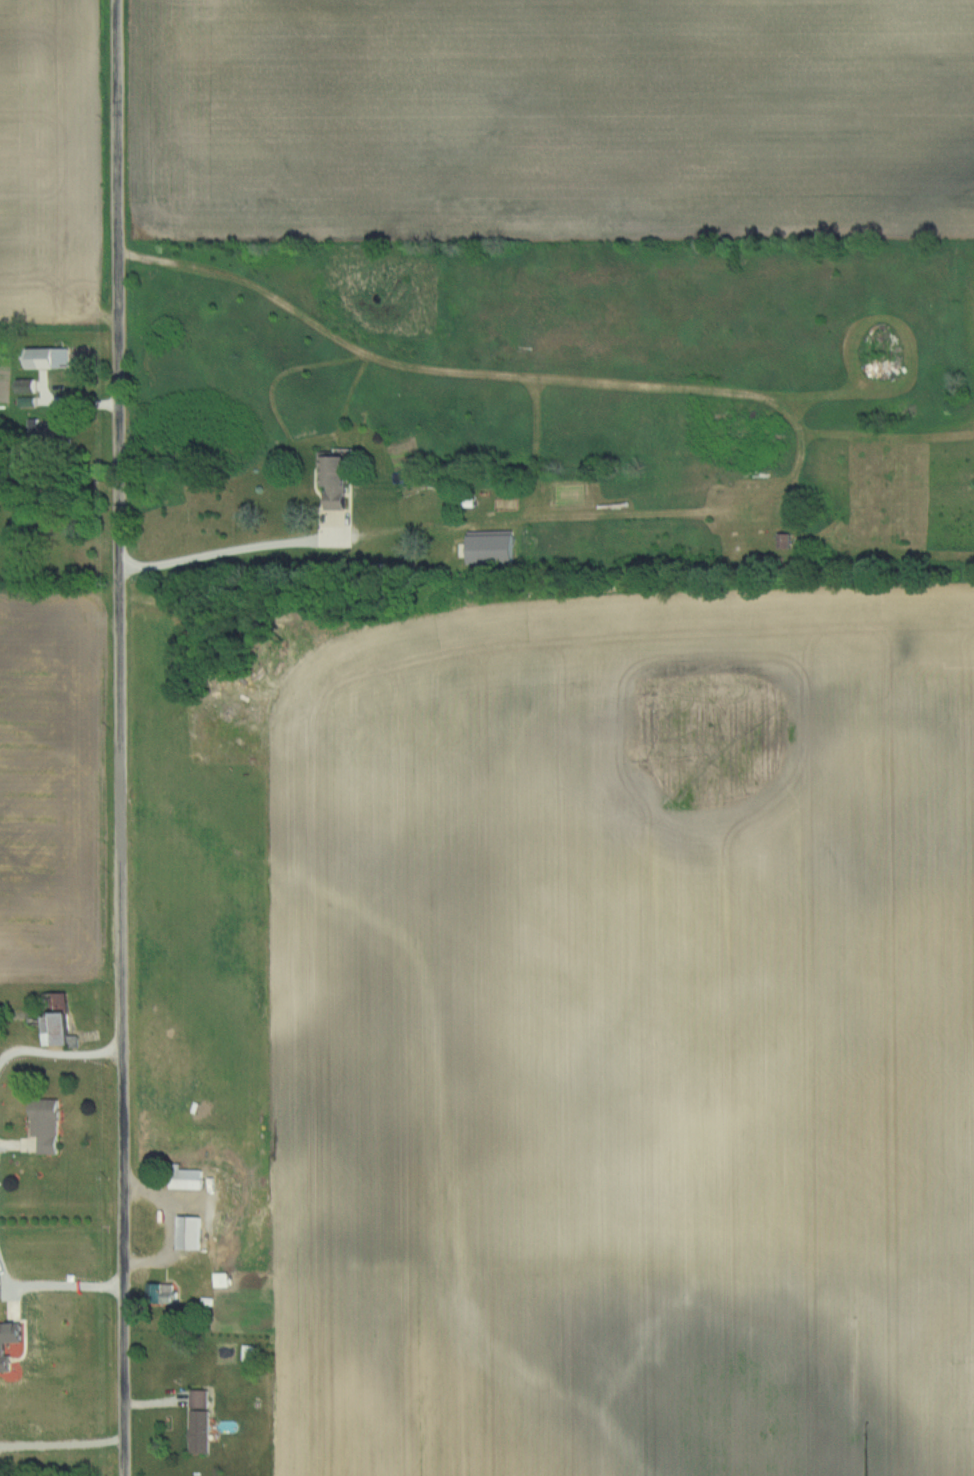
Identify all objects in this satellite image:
building: (49, 358)
building: (27, 387)
building: (49, 427)
building: (336, 481)
building: (786, 540)
road: (230, 550)
road: (121, 738)
building: (58, 1020)
road: (60, 1059)
building: (46, 1126)
building: (187, 1179)
building: (191, 1233)
building: (222, 1280)
building: (164, 1294)
building: (252, 1353)
road: (63, 1420)
building: (200, 1422)

